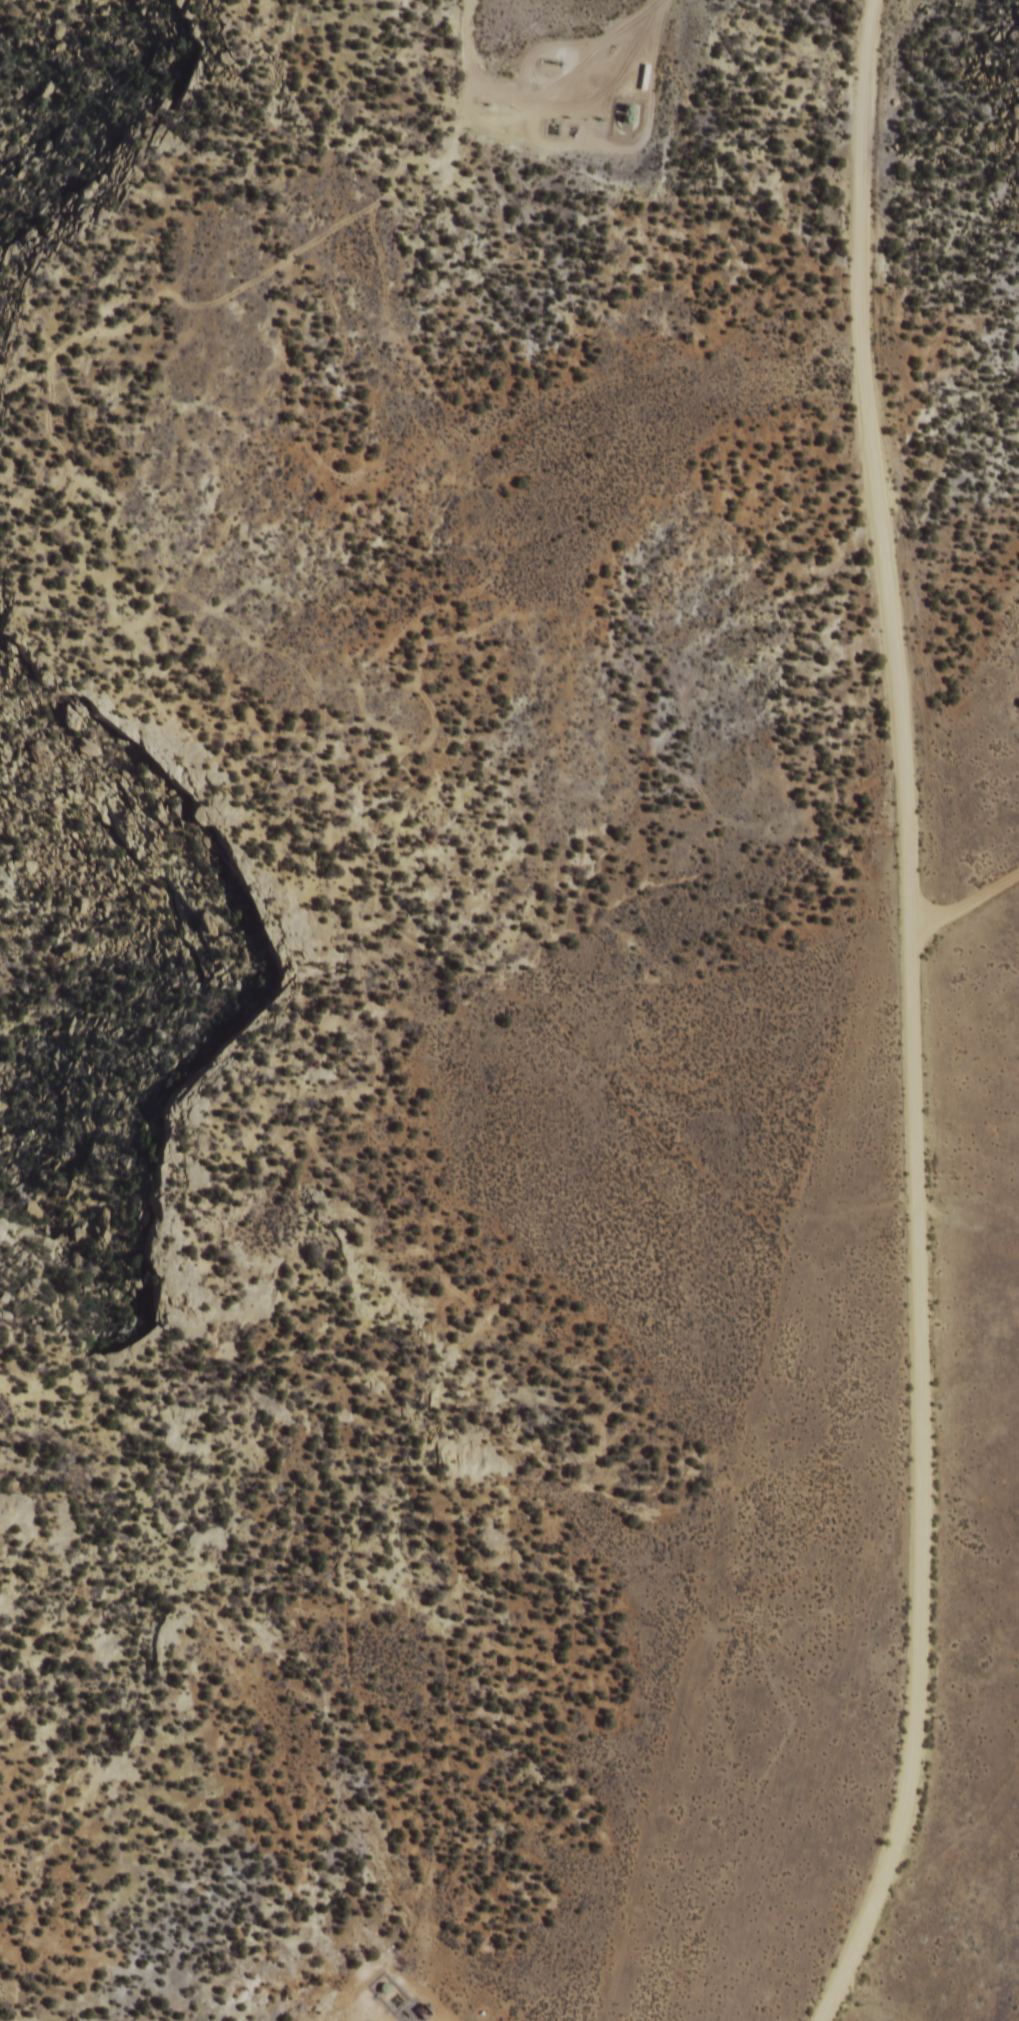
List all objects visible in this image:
building: (627, 117)
road: (957, 877)
road: (893, 1018)

